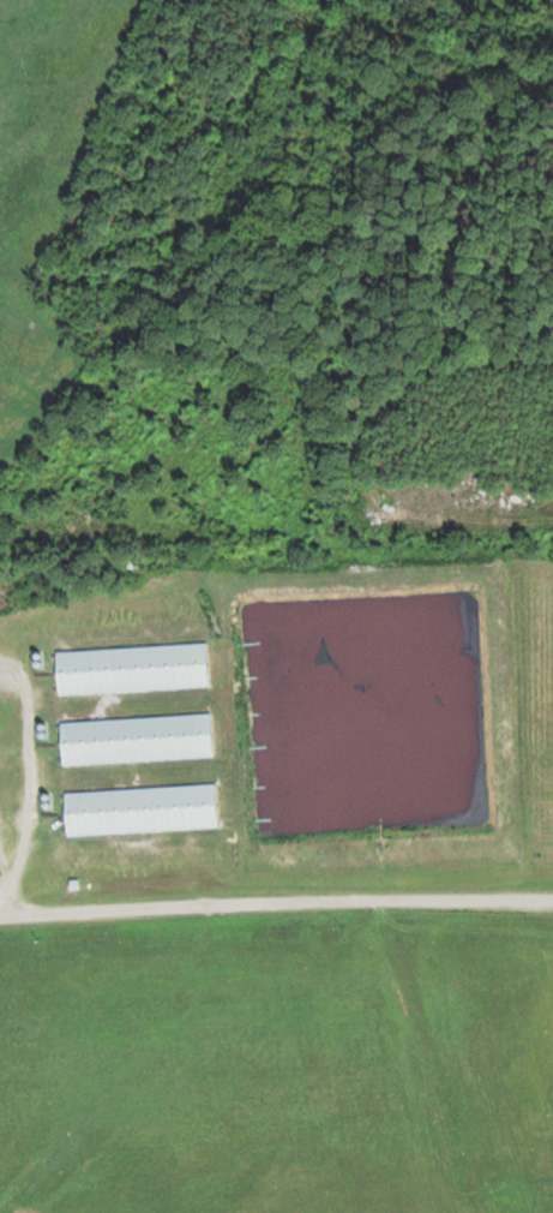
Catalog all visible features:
building: (131, 670)
building: (134, 740)
building: (139, 811)
road: (268, 876)

